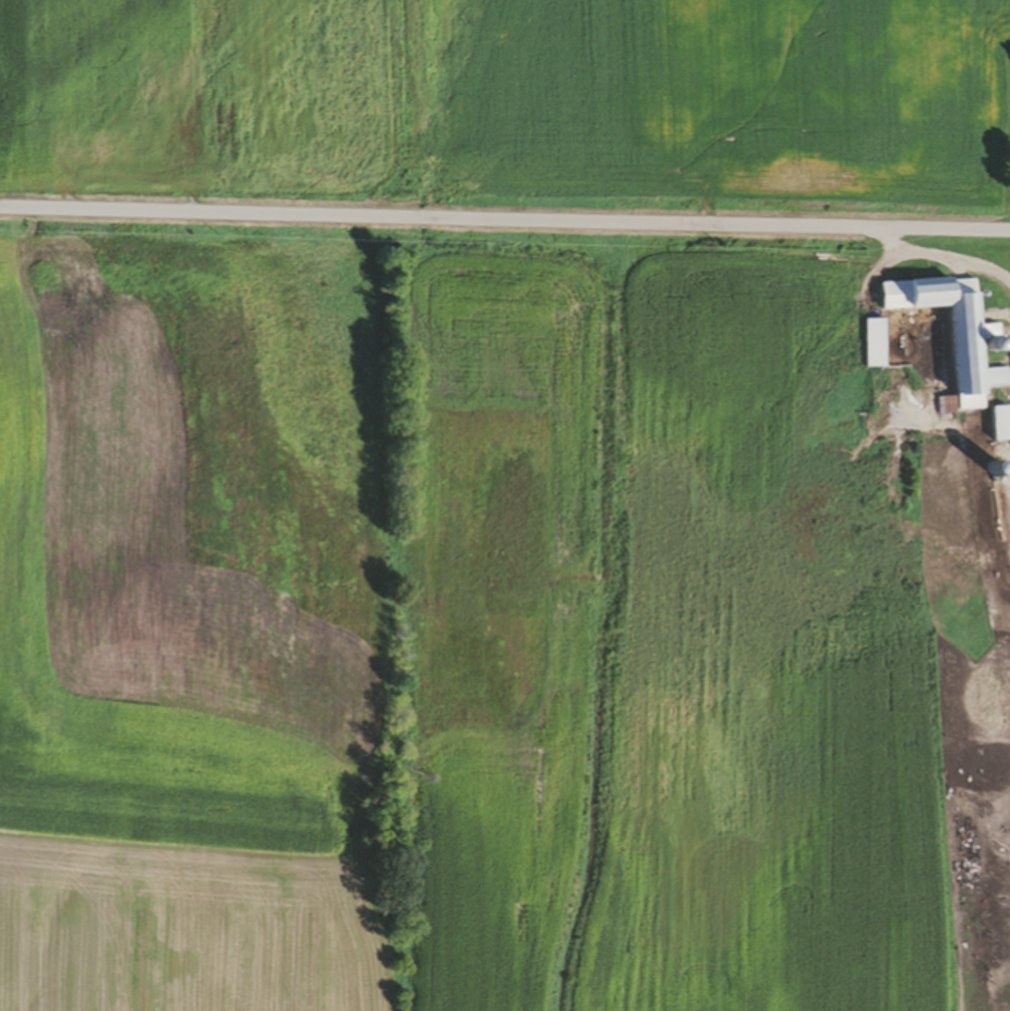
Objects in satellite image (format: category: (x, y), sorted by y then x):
road: (504, 219)
road: (944, 254)
building: (949, 337)
building: (873, 345)
building: (995, 427)

